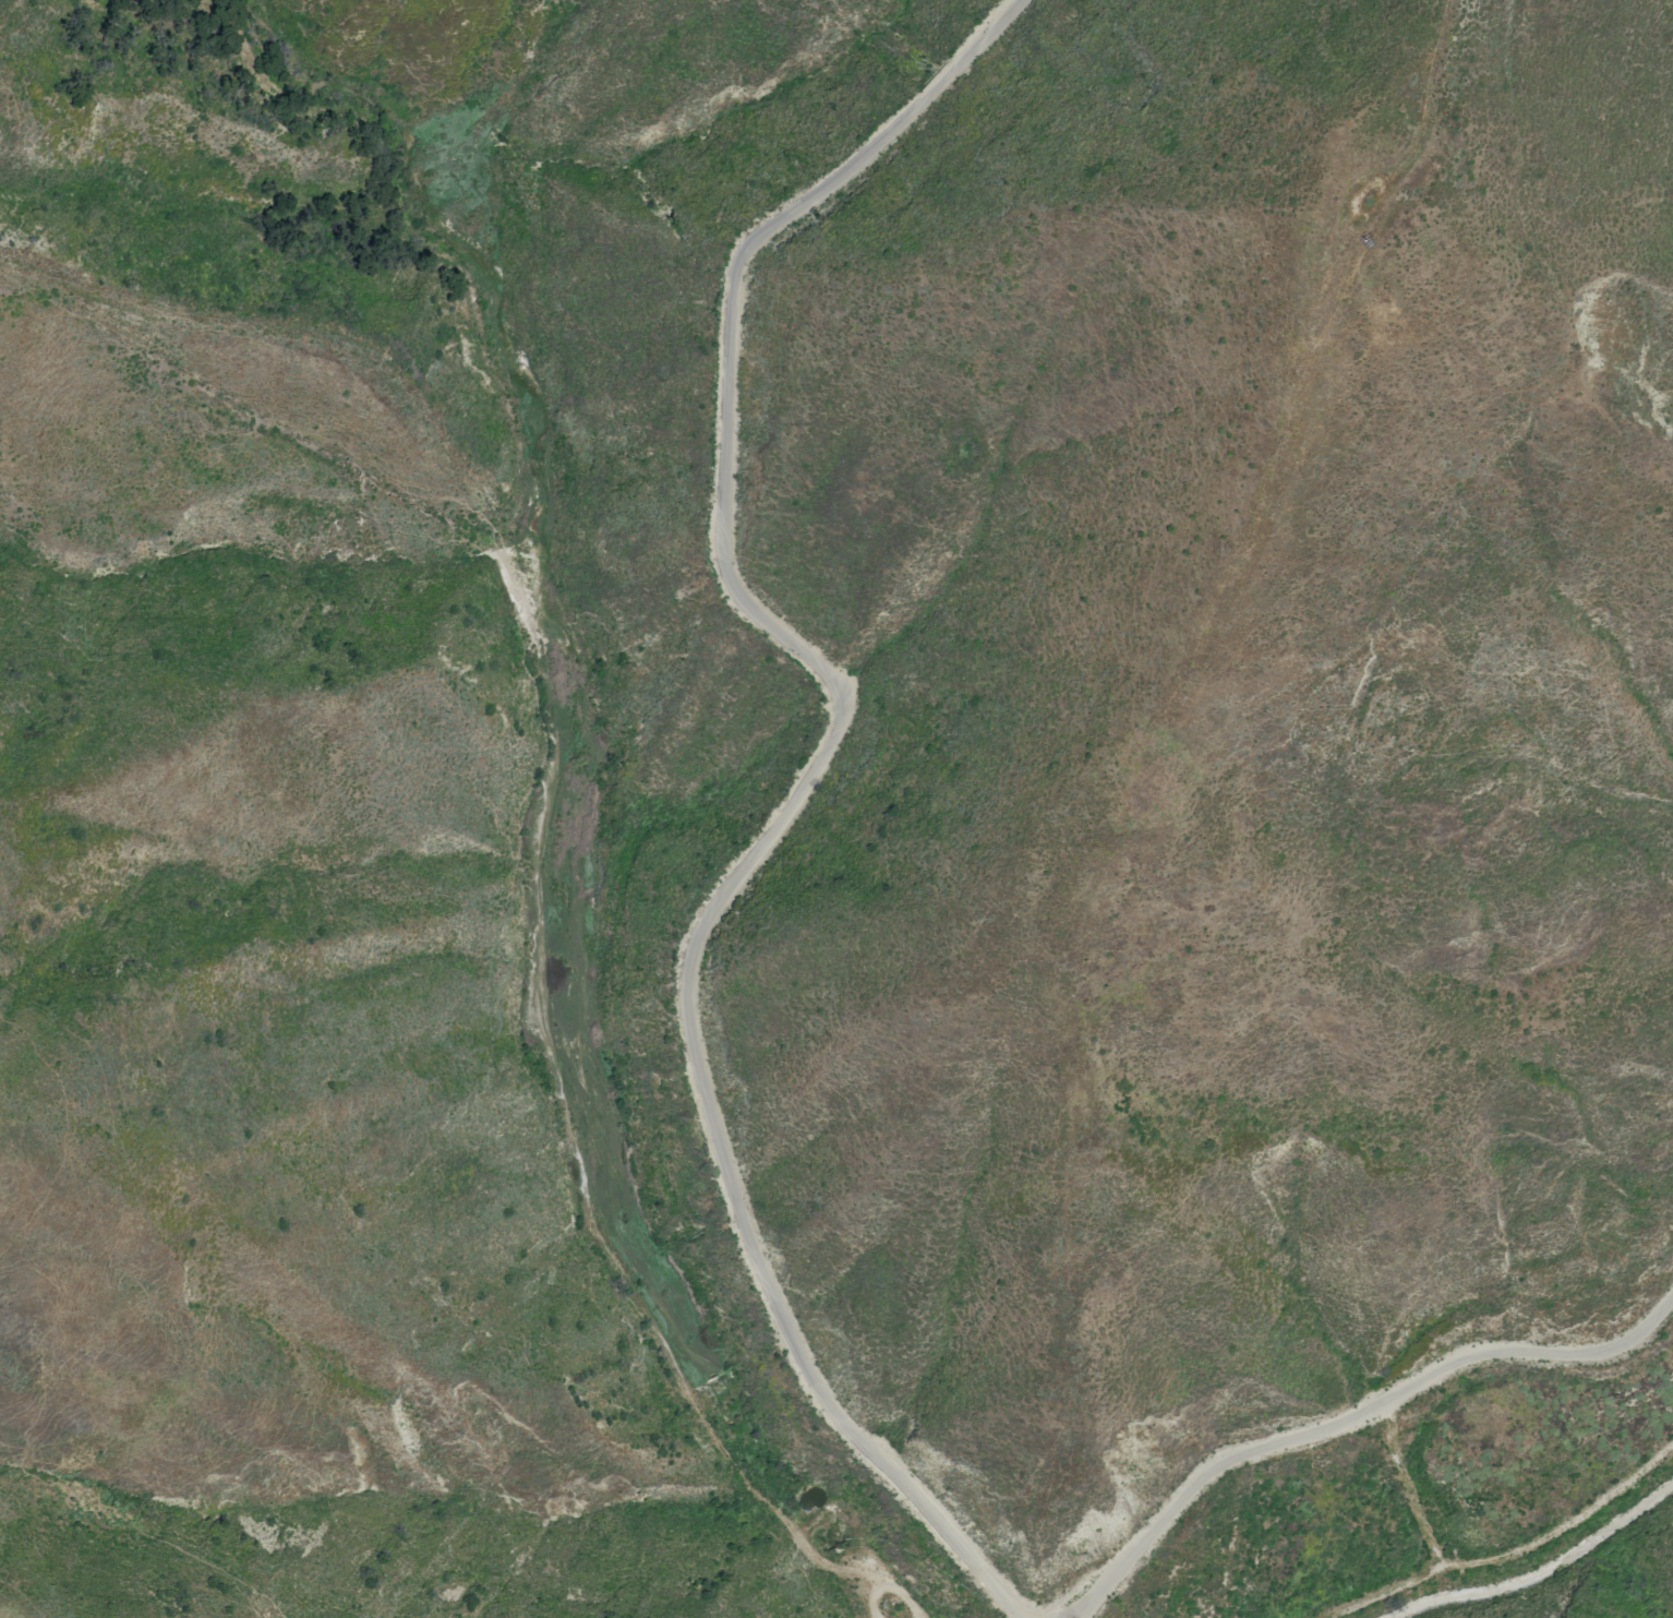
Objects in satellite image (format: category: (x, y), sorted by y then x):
road: (818, 786)
road: (1355, 1421)

